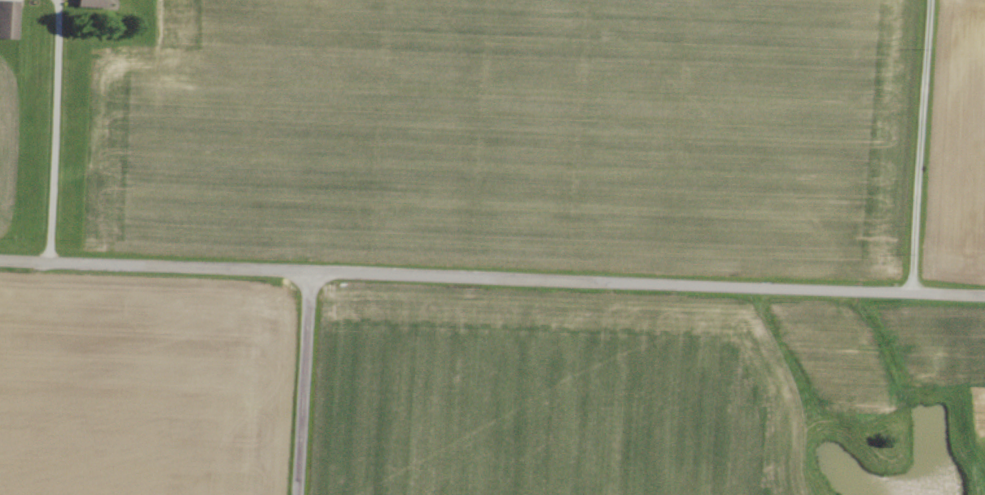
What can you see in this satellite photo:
building: (93, 3)
building: (8, 19)
road: (54, 132)
road: (921, 147)
road: (492, 280)
road: (302, 384)

